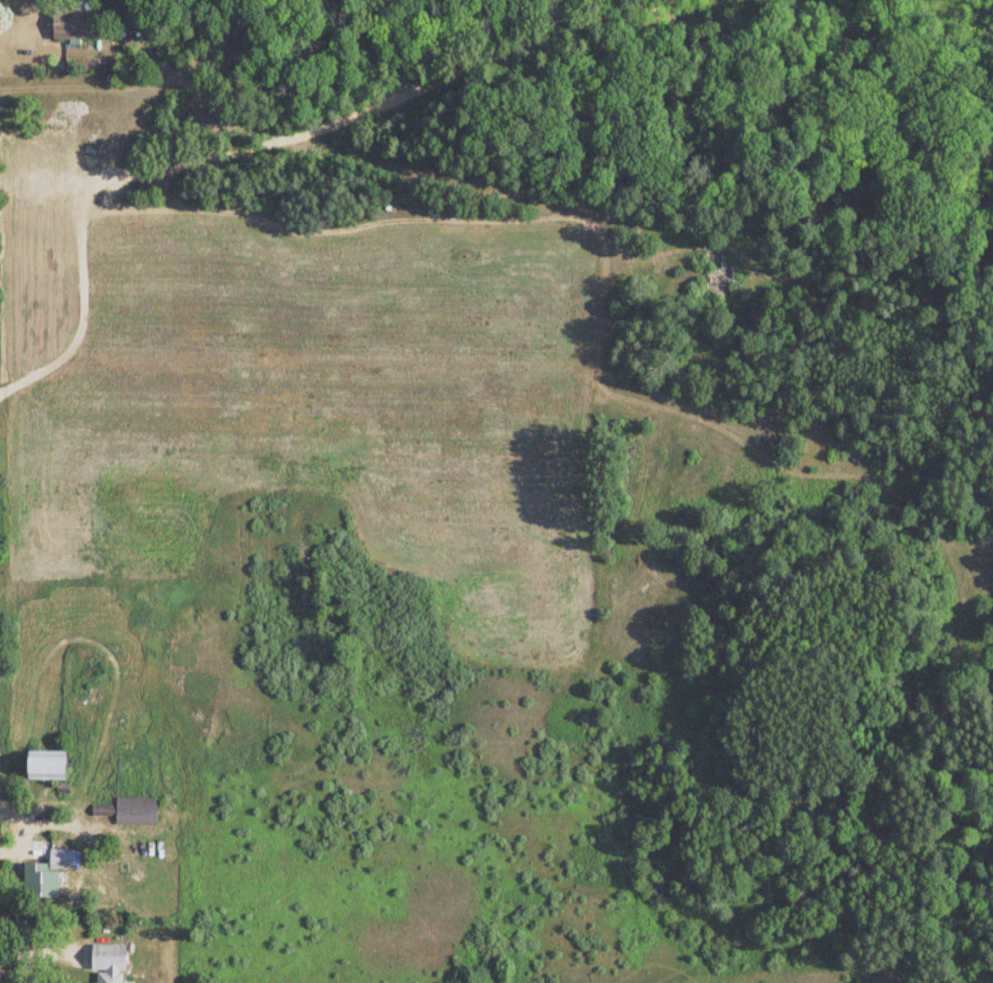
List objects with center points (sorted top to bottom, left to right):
building: (73, 25)
building: (715, 278)
road: (428, 365)
building: (44, 766)
building: (99, 812)
building: (133, 812)
road: (44, 948)
building: (104, 964)

